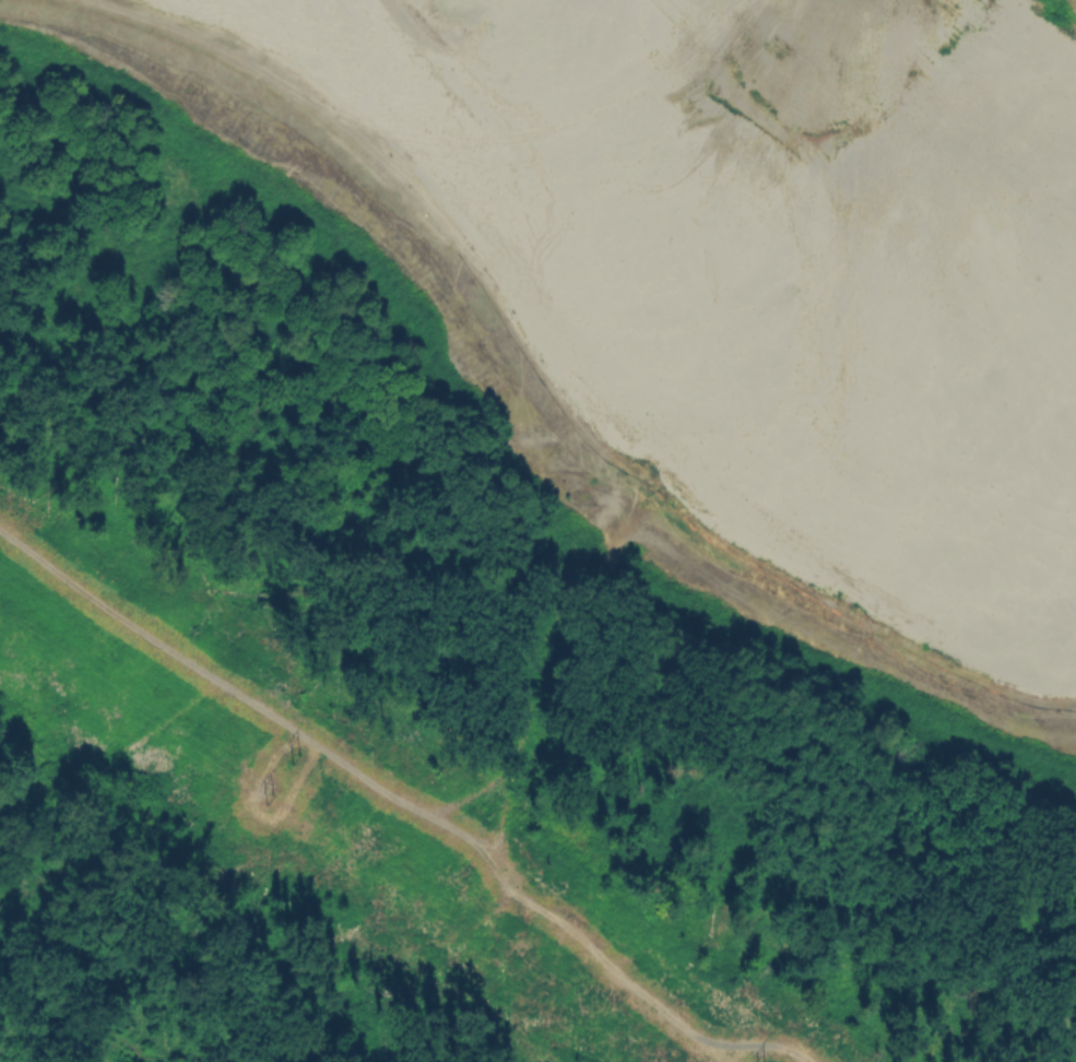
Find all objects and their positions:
road: (532, 686)
road: (610, 966)

